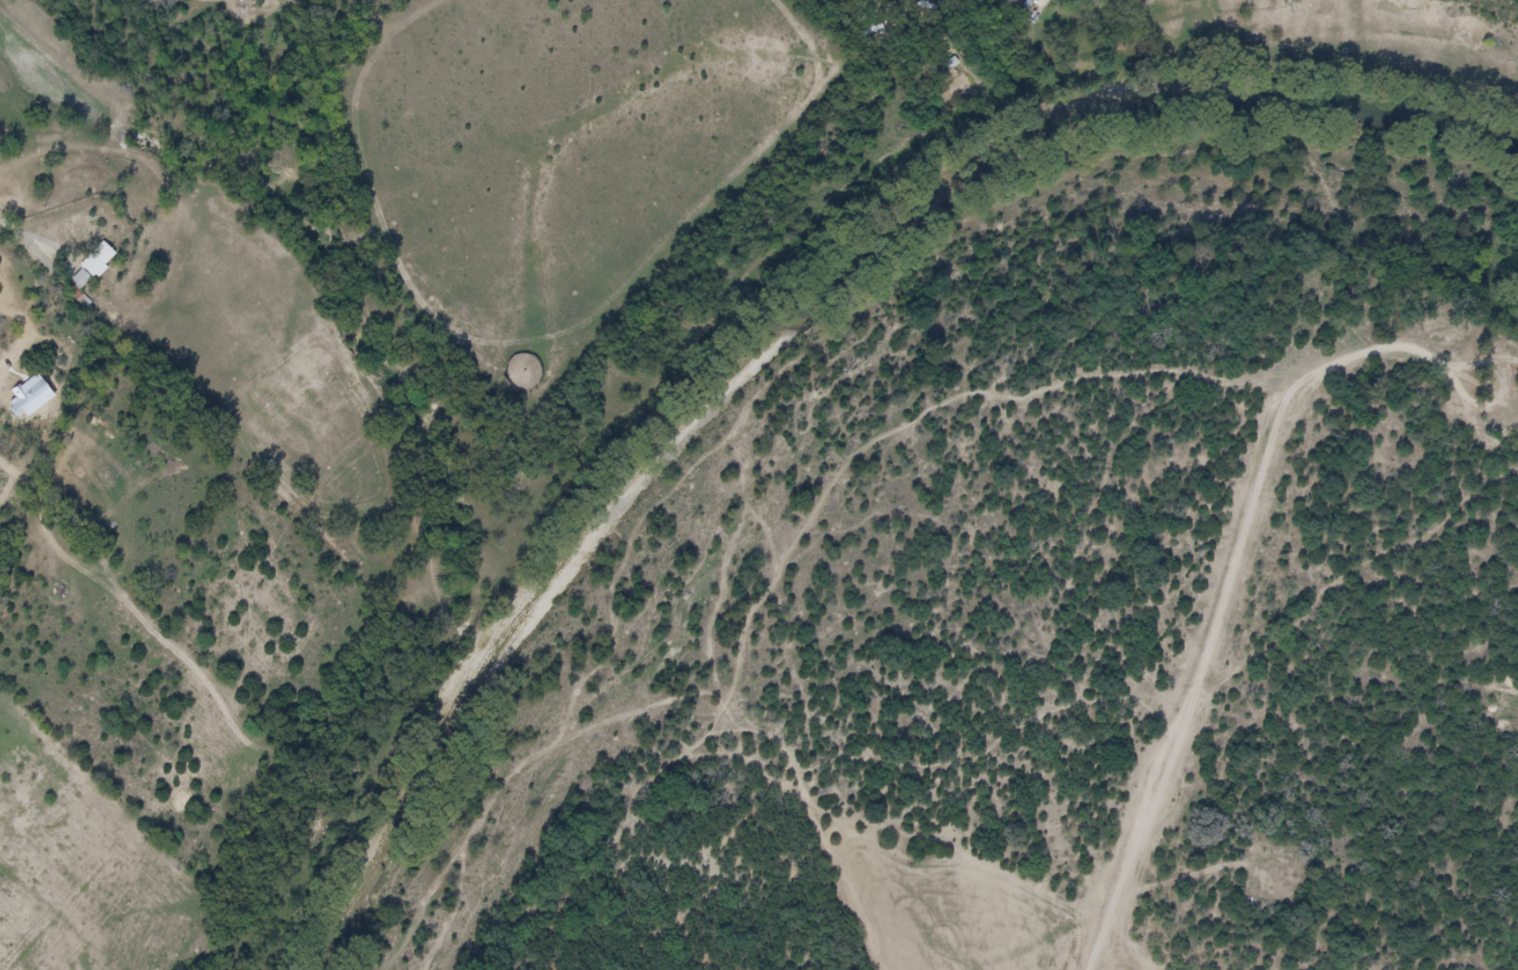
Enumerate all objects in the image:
road: (899, 19)
building: (79, 226)
road: (25, 241)
building: (92, 265)
river: (771, 328)
building: (28, 393)
road: (1235, 564)

